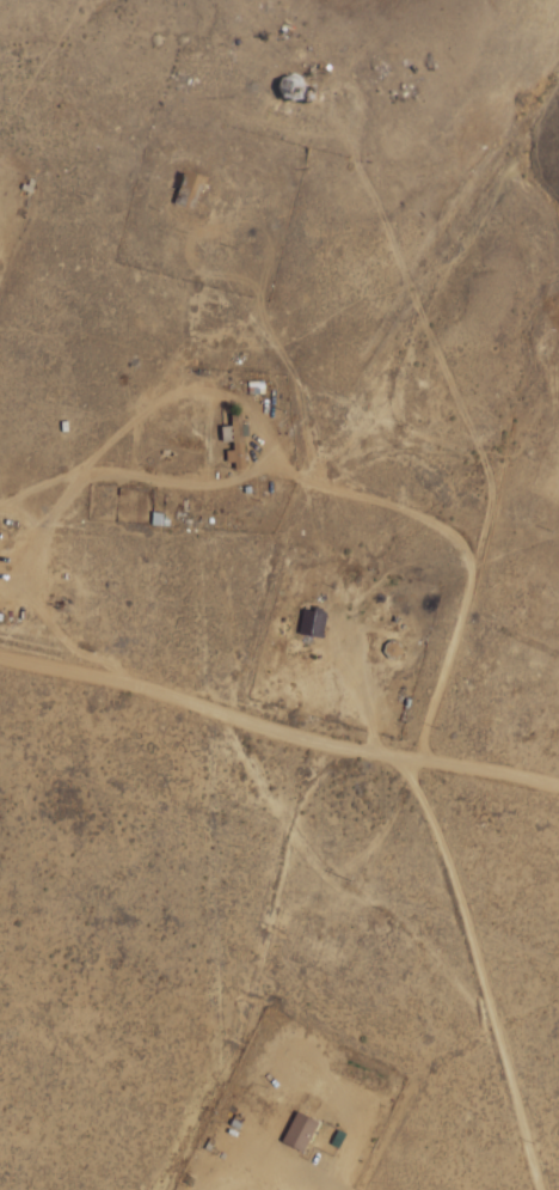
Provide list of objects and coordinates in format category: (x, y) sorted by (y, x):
building: (299, 90)
building: (191, 190)
road: (287, 313)
building: (235, 439)
building: (312, 622)
building: (393, 649)
road: (156, 718)
building: (299, 1131)
road: (127, 1180)

